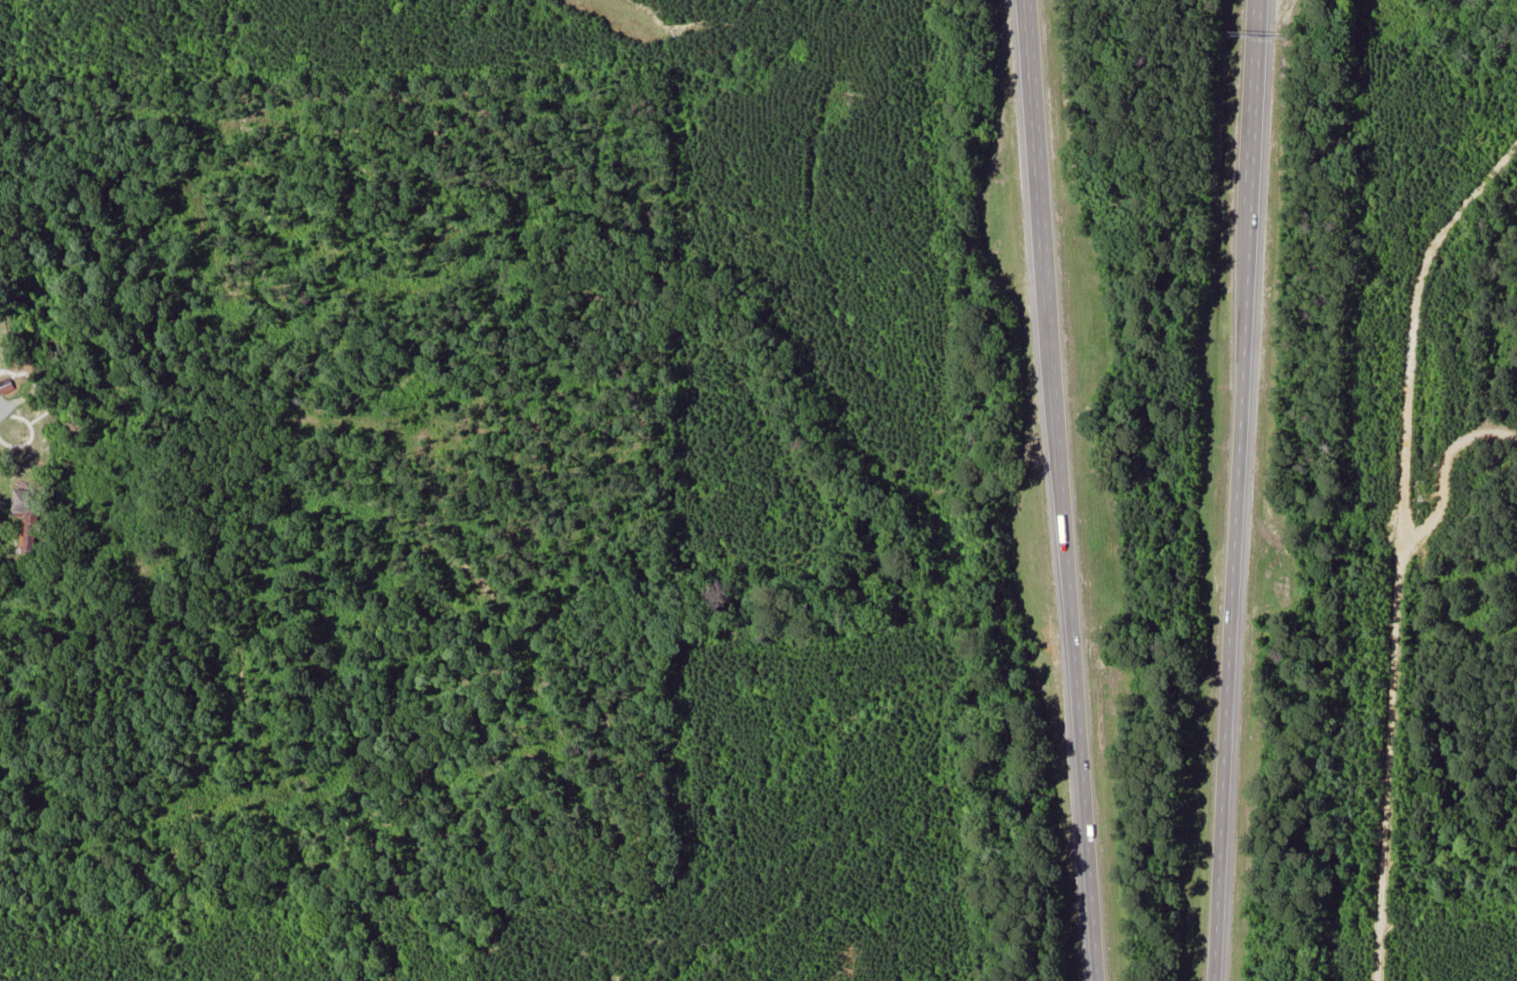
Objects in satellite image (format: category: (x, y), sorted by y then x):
road: (1253, 104)
road: (1043, 228)
road: (1390, 535)
road: (1232, 595)
road: (1079, 718)

